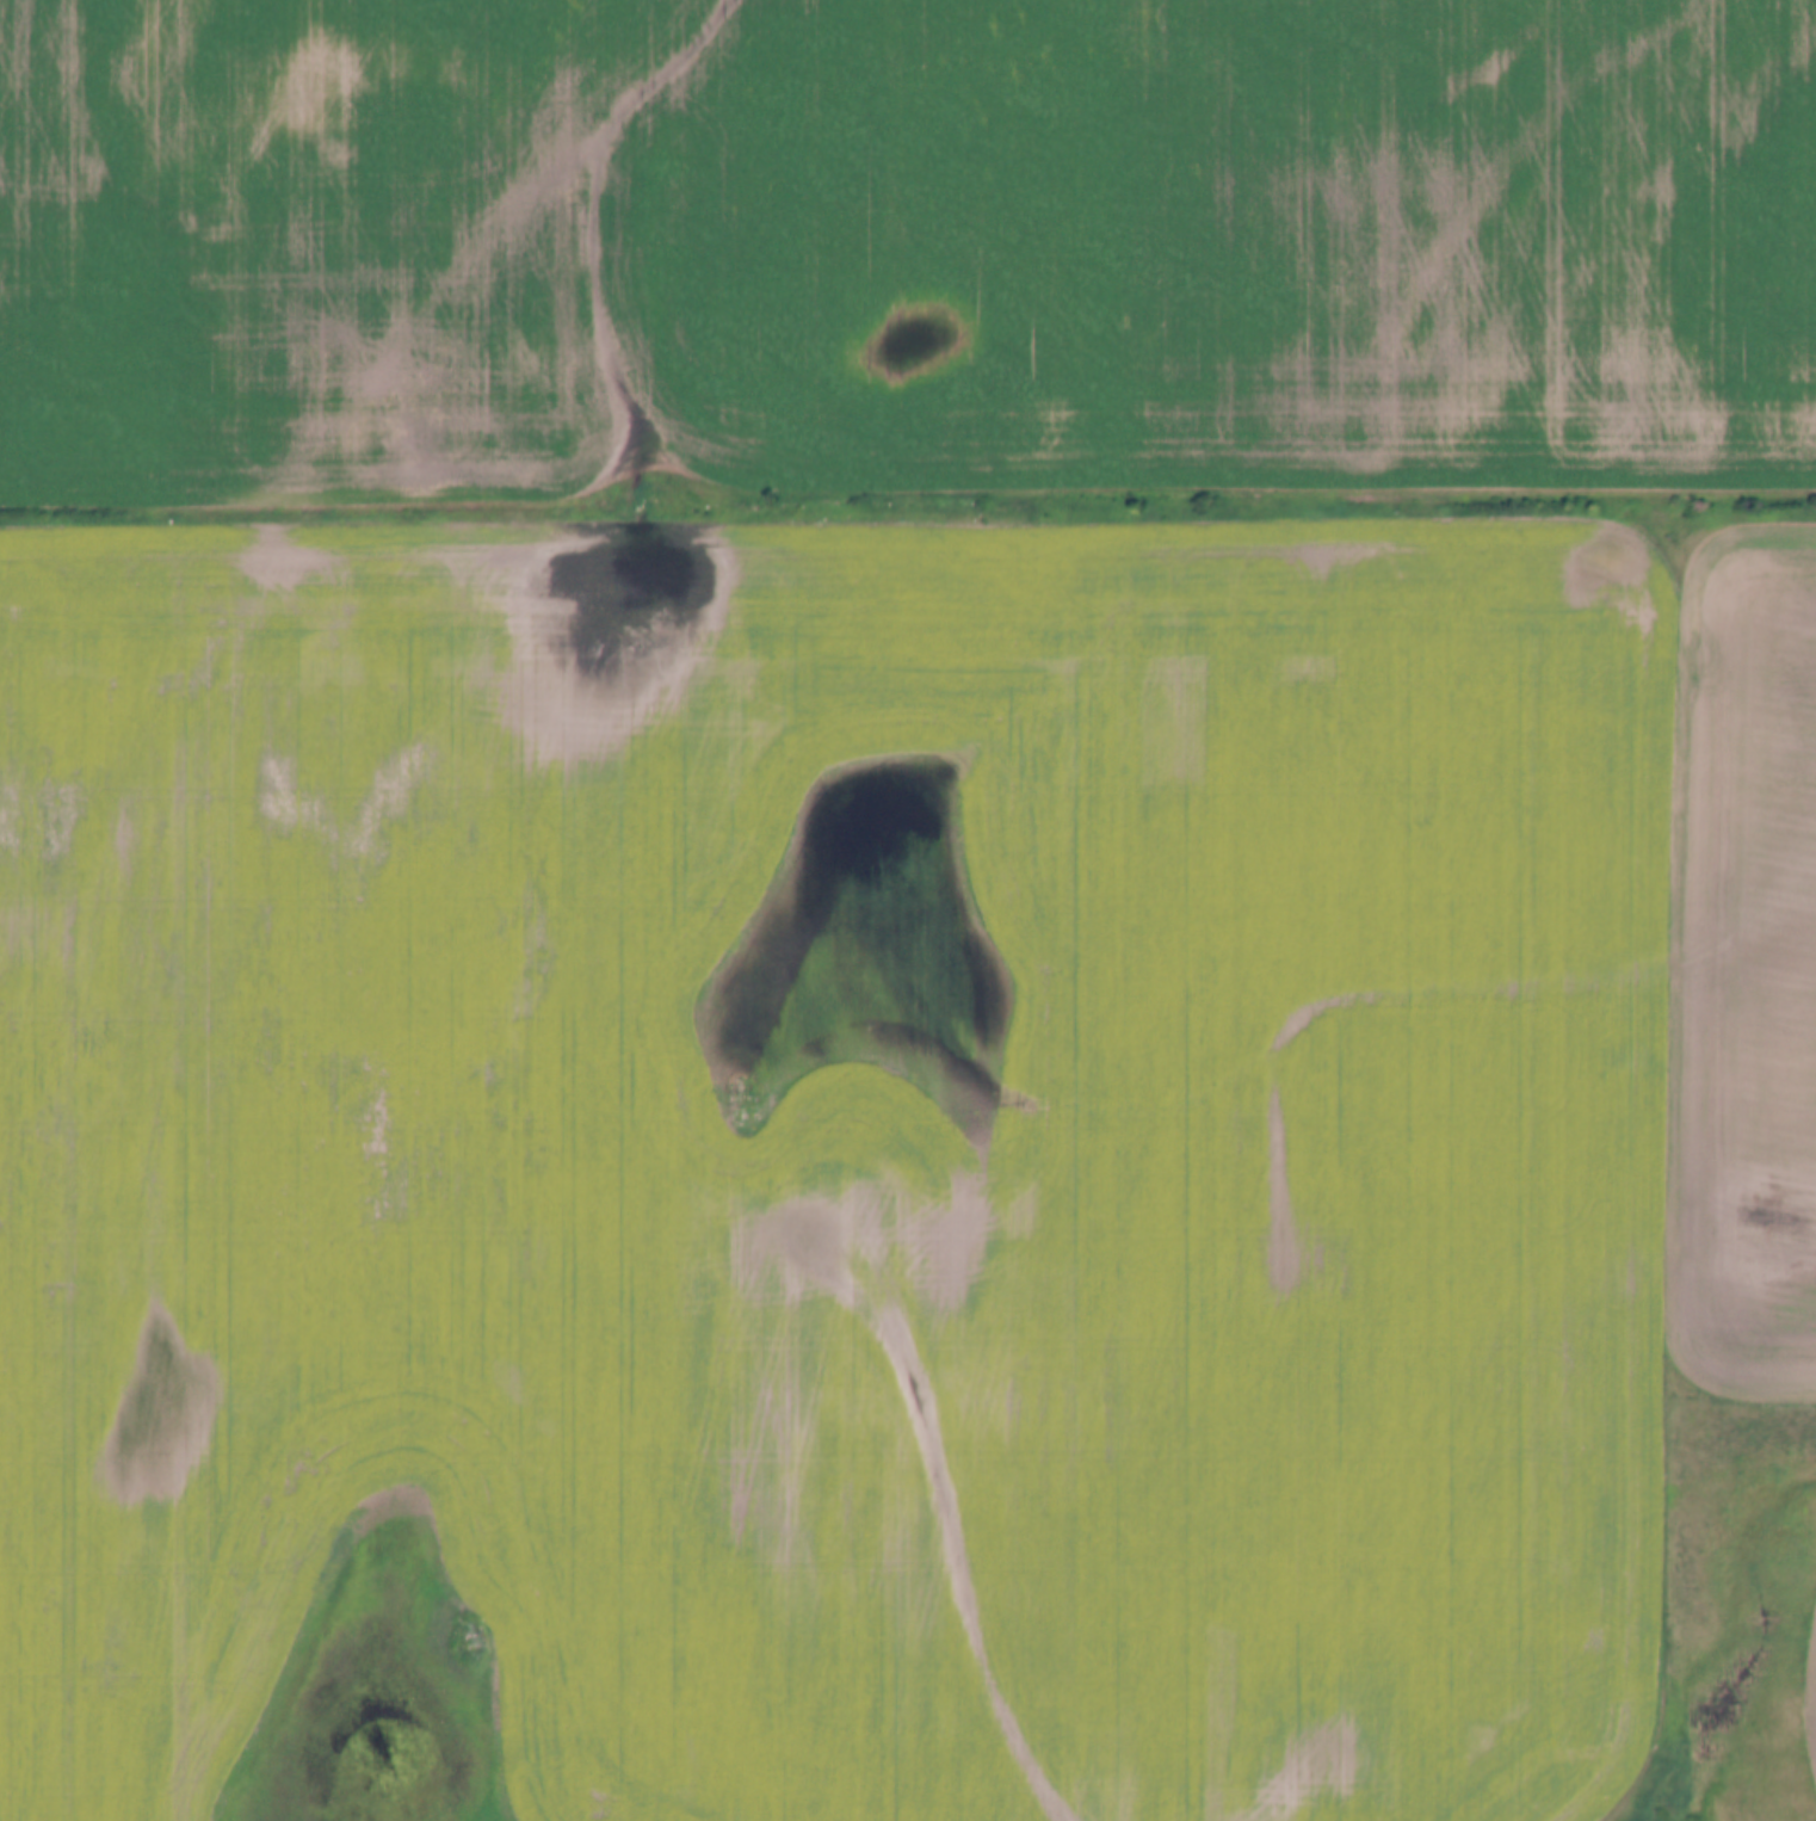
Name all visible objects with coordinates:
crop: (904, 246)

